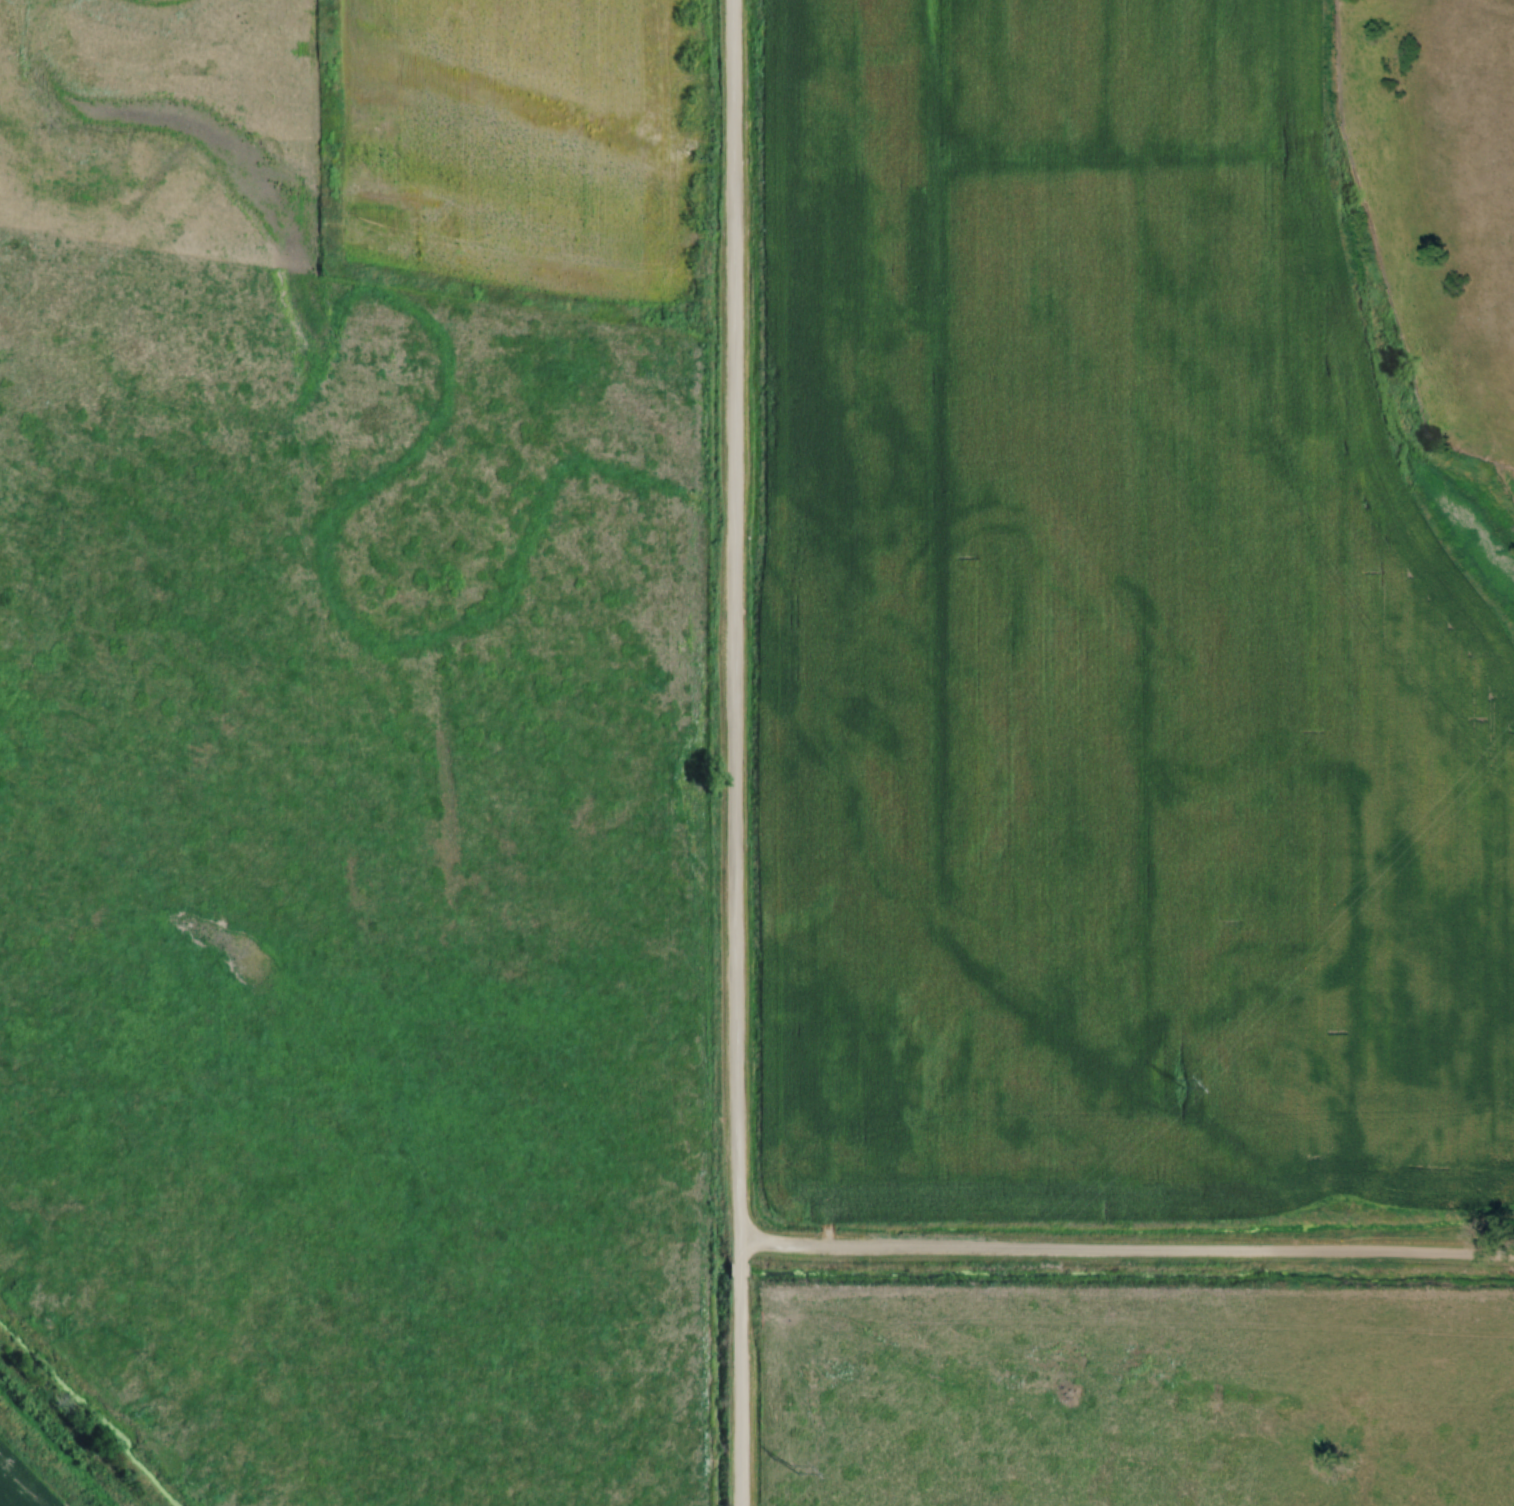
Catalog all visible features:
airport runway: (1303, 208)
road: (733, 629)
power tower: (1185, 1081)
road: (1128, 1251)
road: (743, 1270)
river: (1002, 1274)
road: (743, 1394)
river: (82, 1424)
power tower: (785, 1460)

